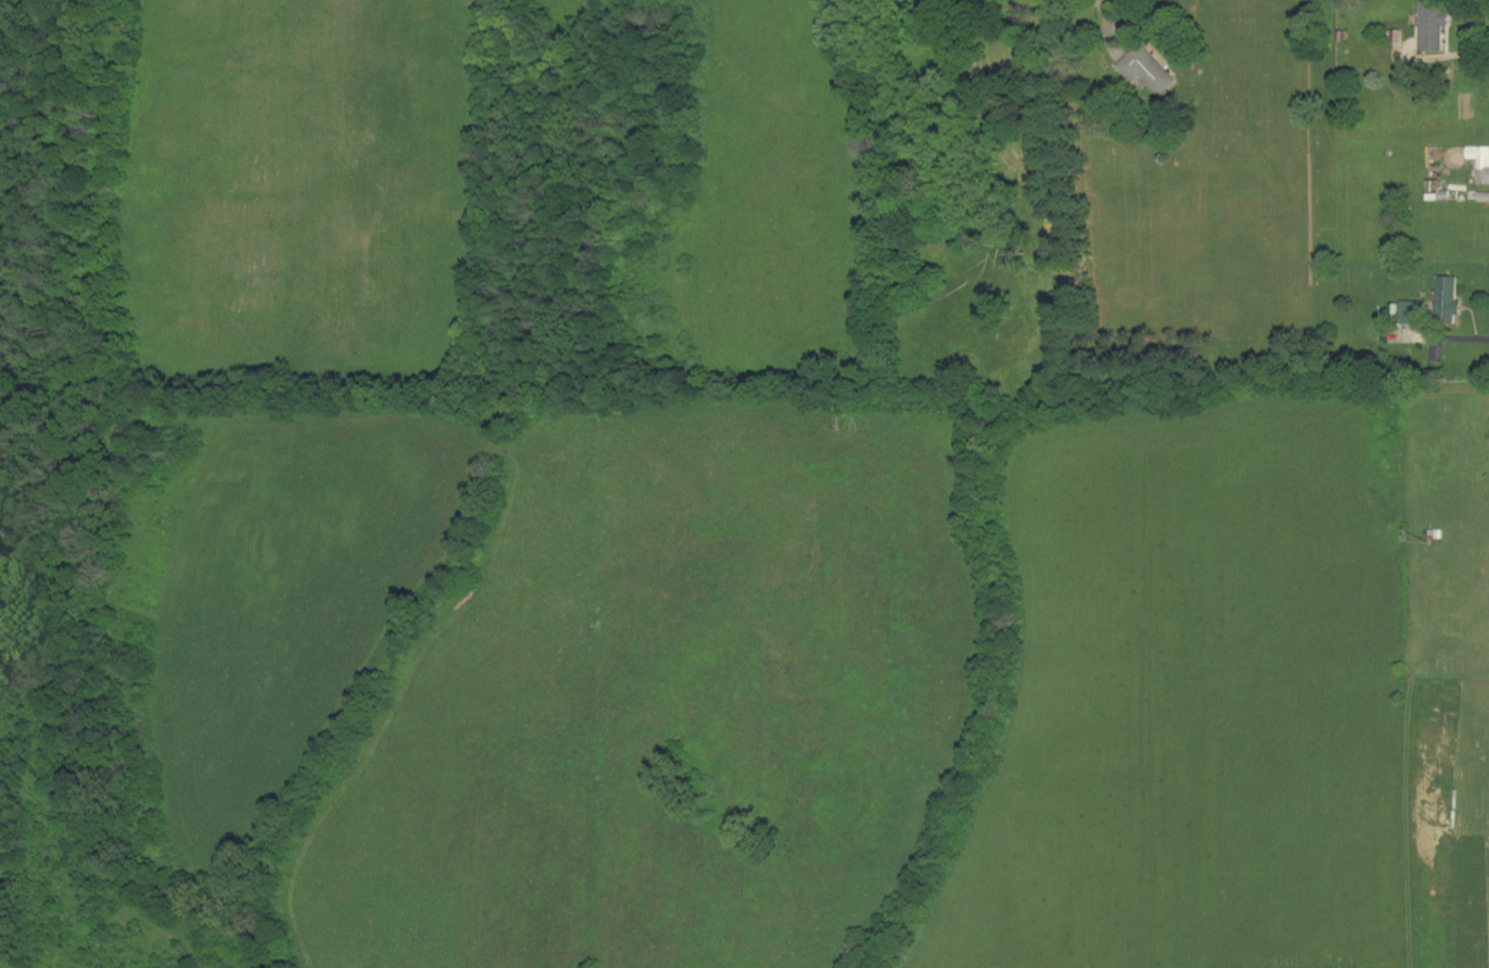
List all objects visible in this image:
road: (1061, 8)
building: (1435, 26)
building: (1149, 71)
building: (1481, 163)
building: (1449, 300)
building: (1413, 313)

